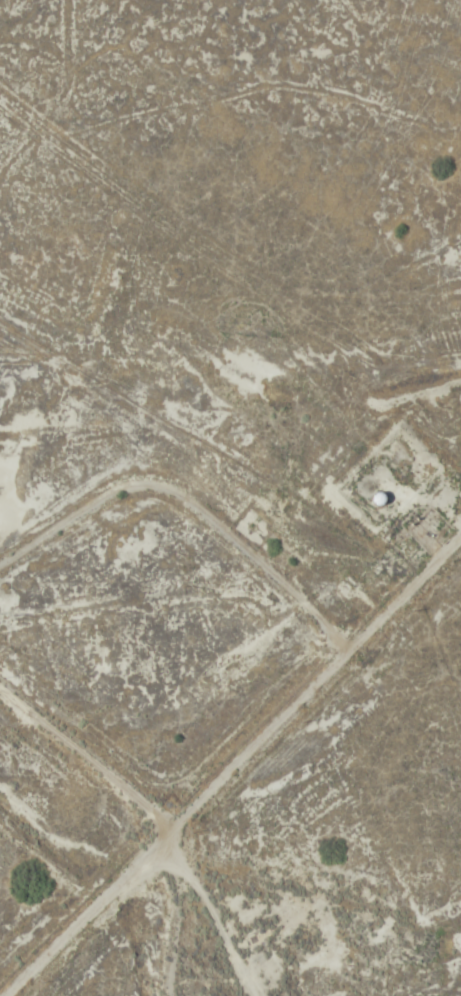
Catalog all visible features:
road: (400, 578)
road: (321, 658)
road: (83, 745)

